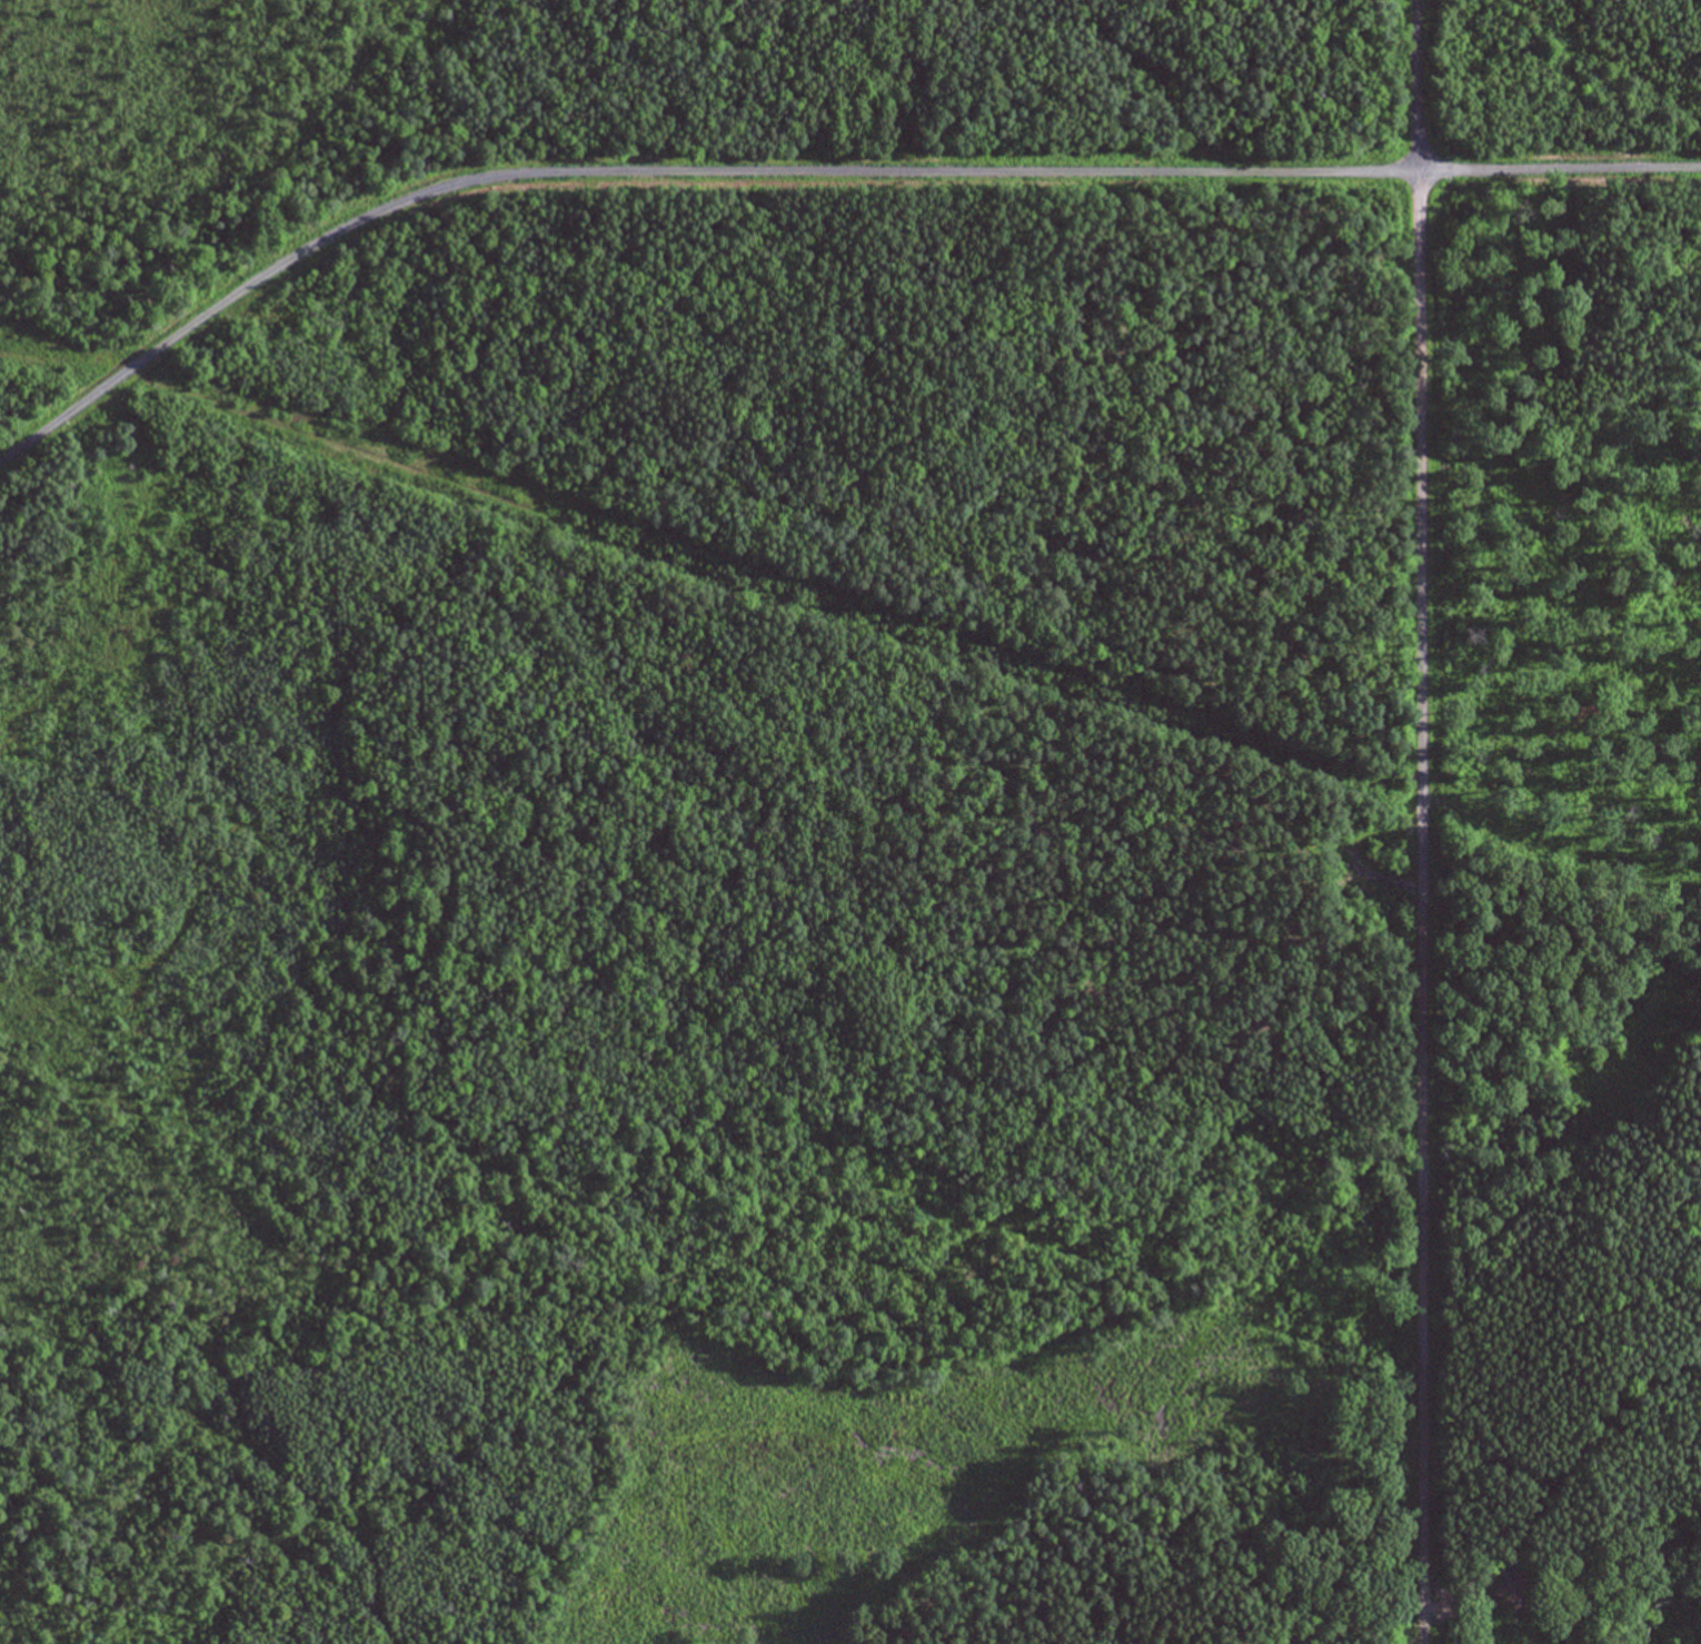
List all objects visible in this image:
road: (808, 174)
road: (1420, 822)

